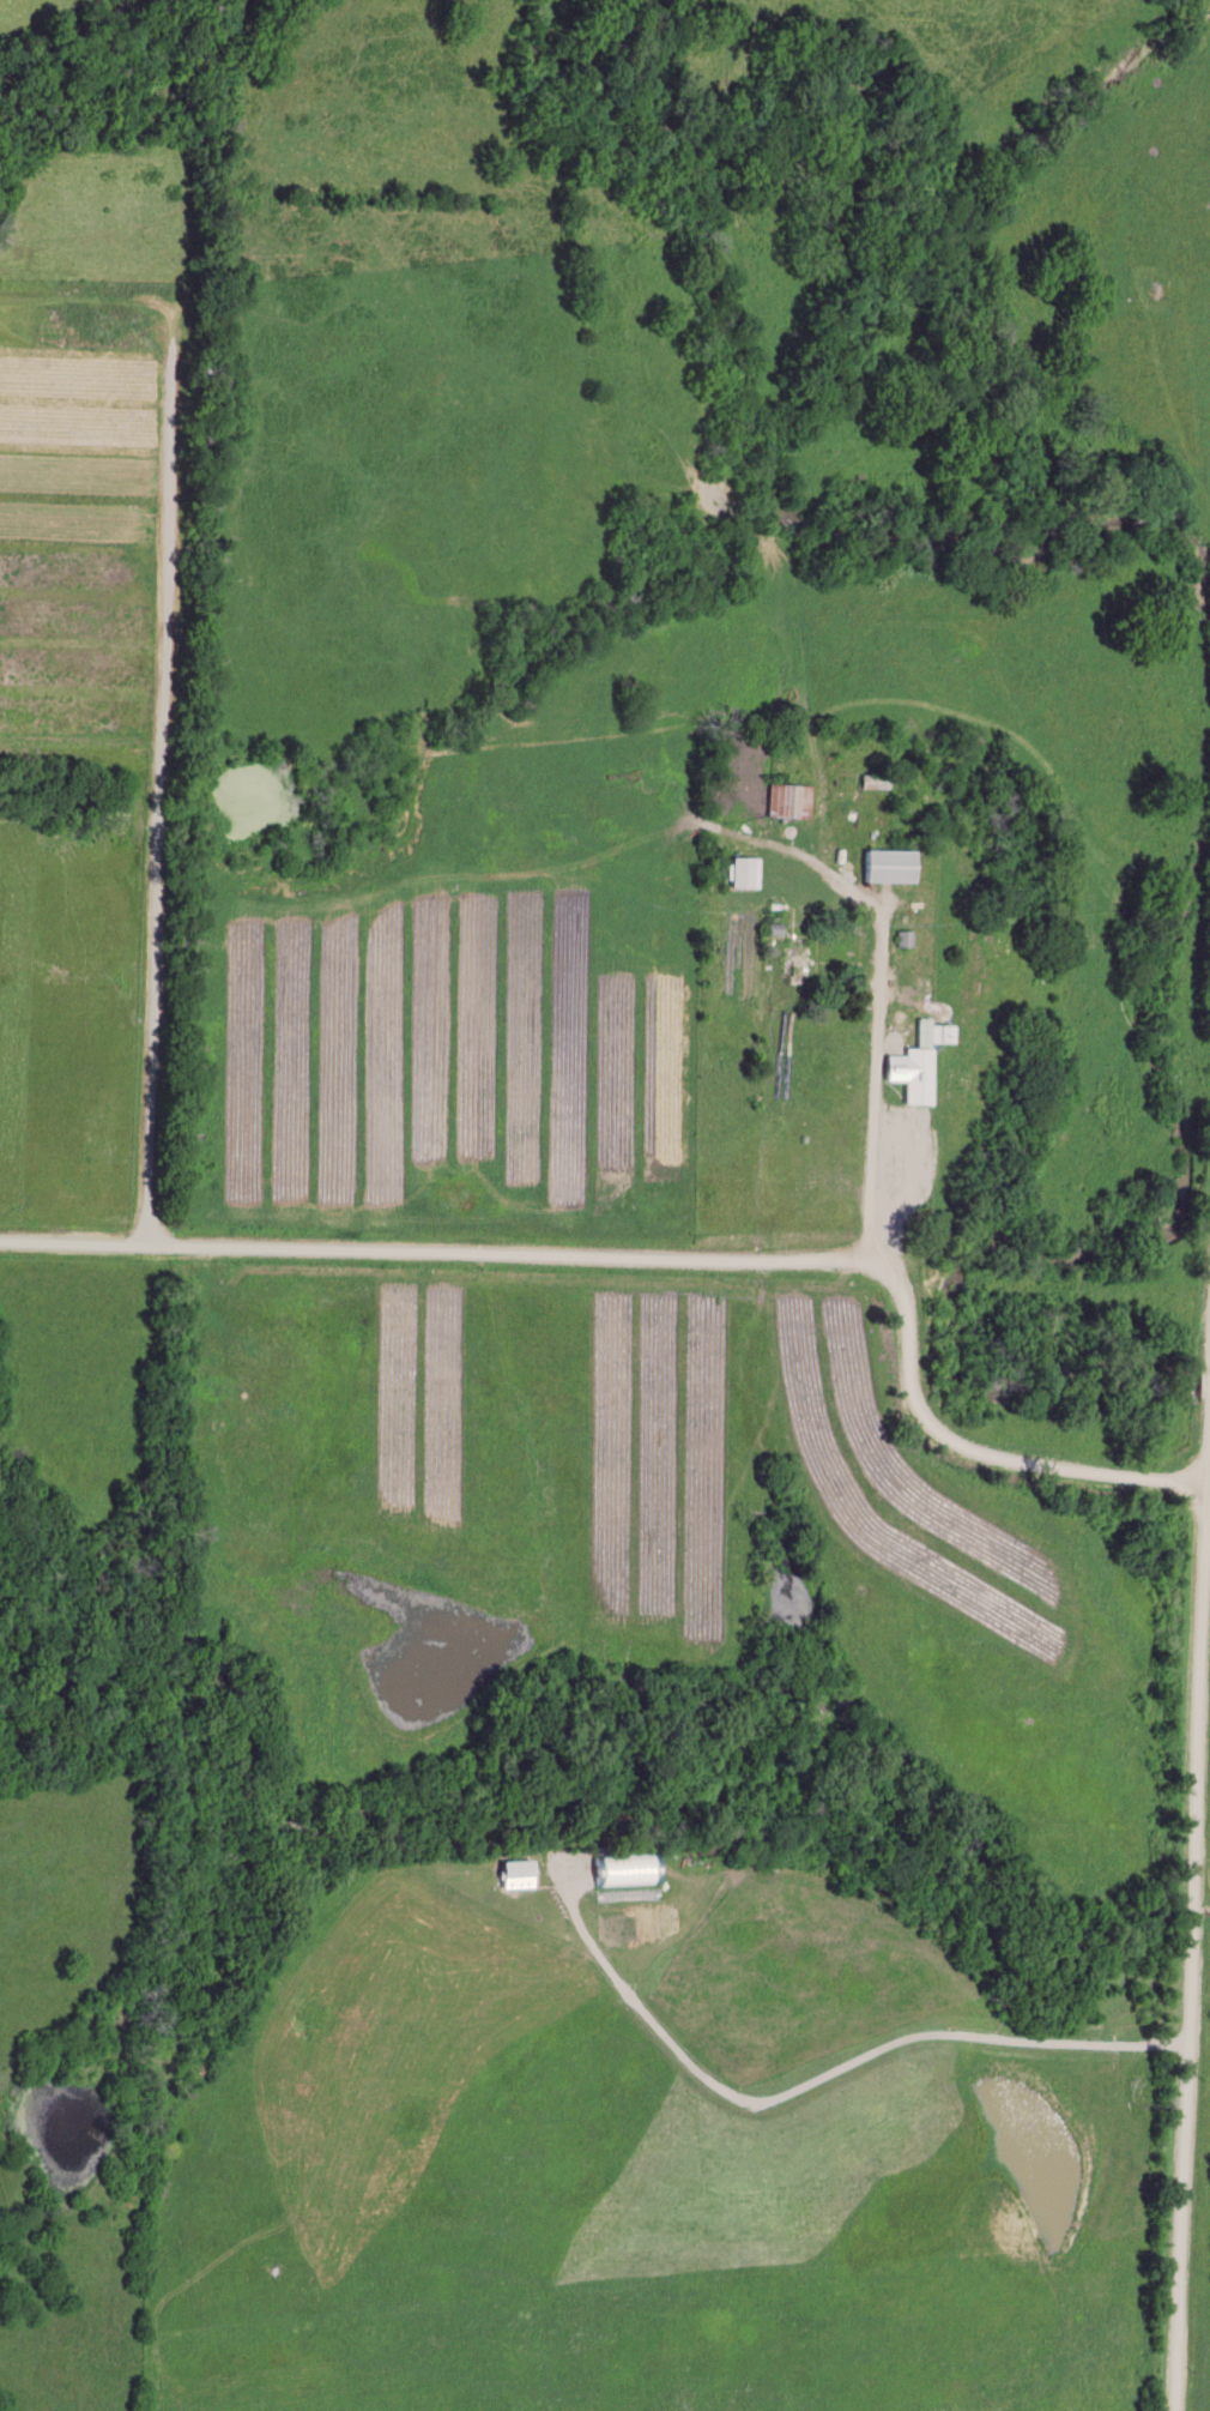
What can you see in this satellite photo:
building: (872, 783)
building: (788, 803)
building: (887, 867)
building: (794, 965)
road: (875, 1095)
road: (671, 1261)
road: (1193, 1970)

